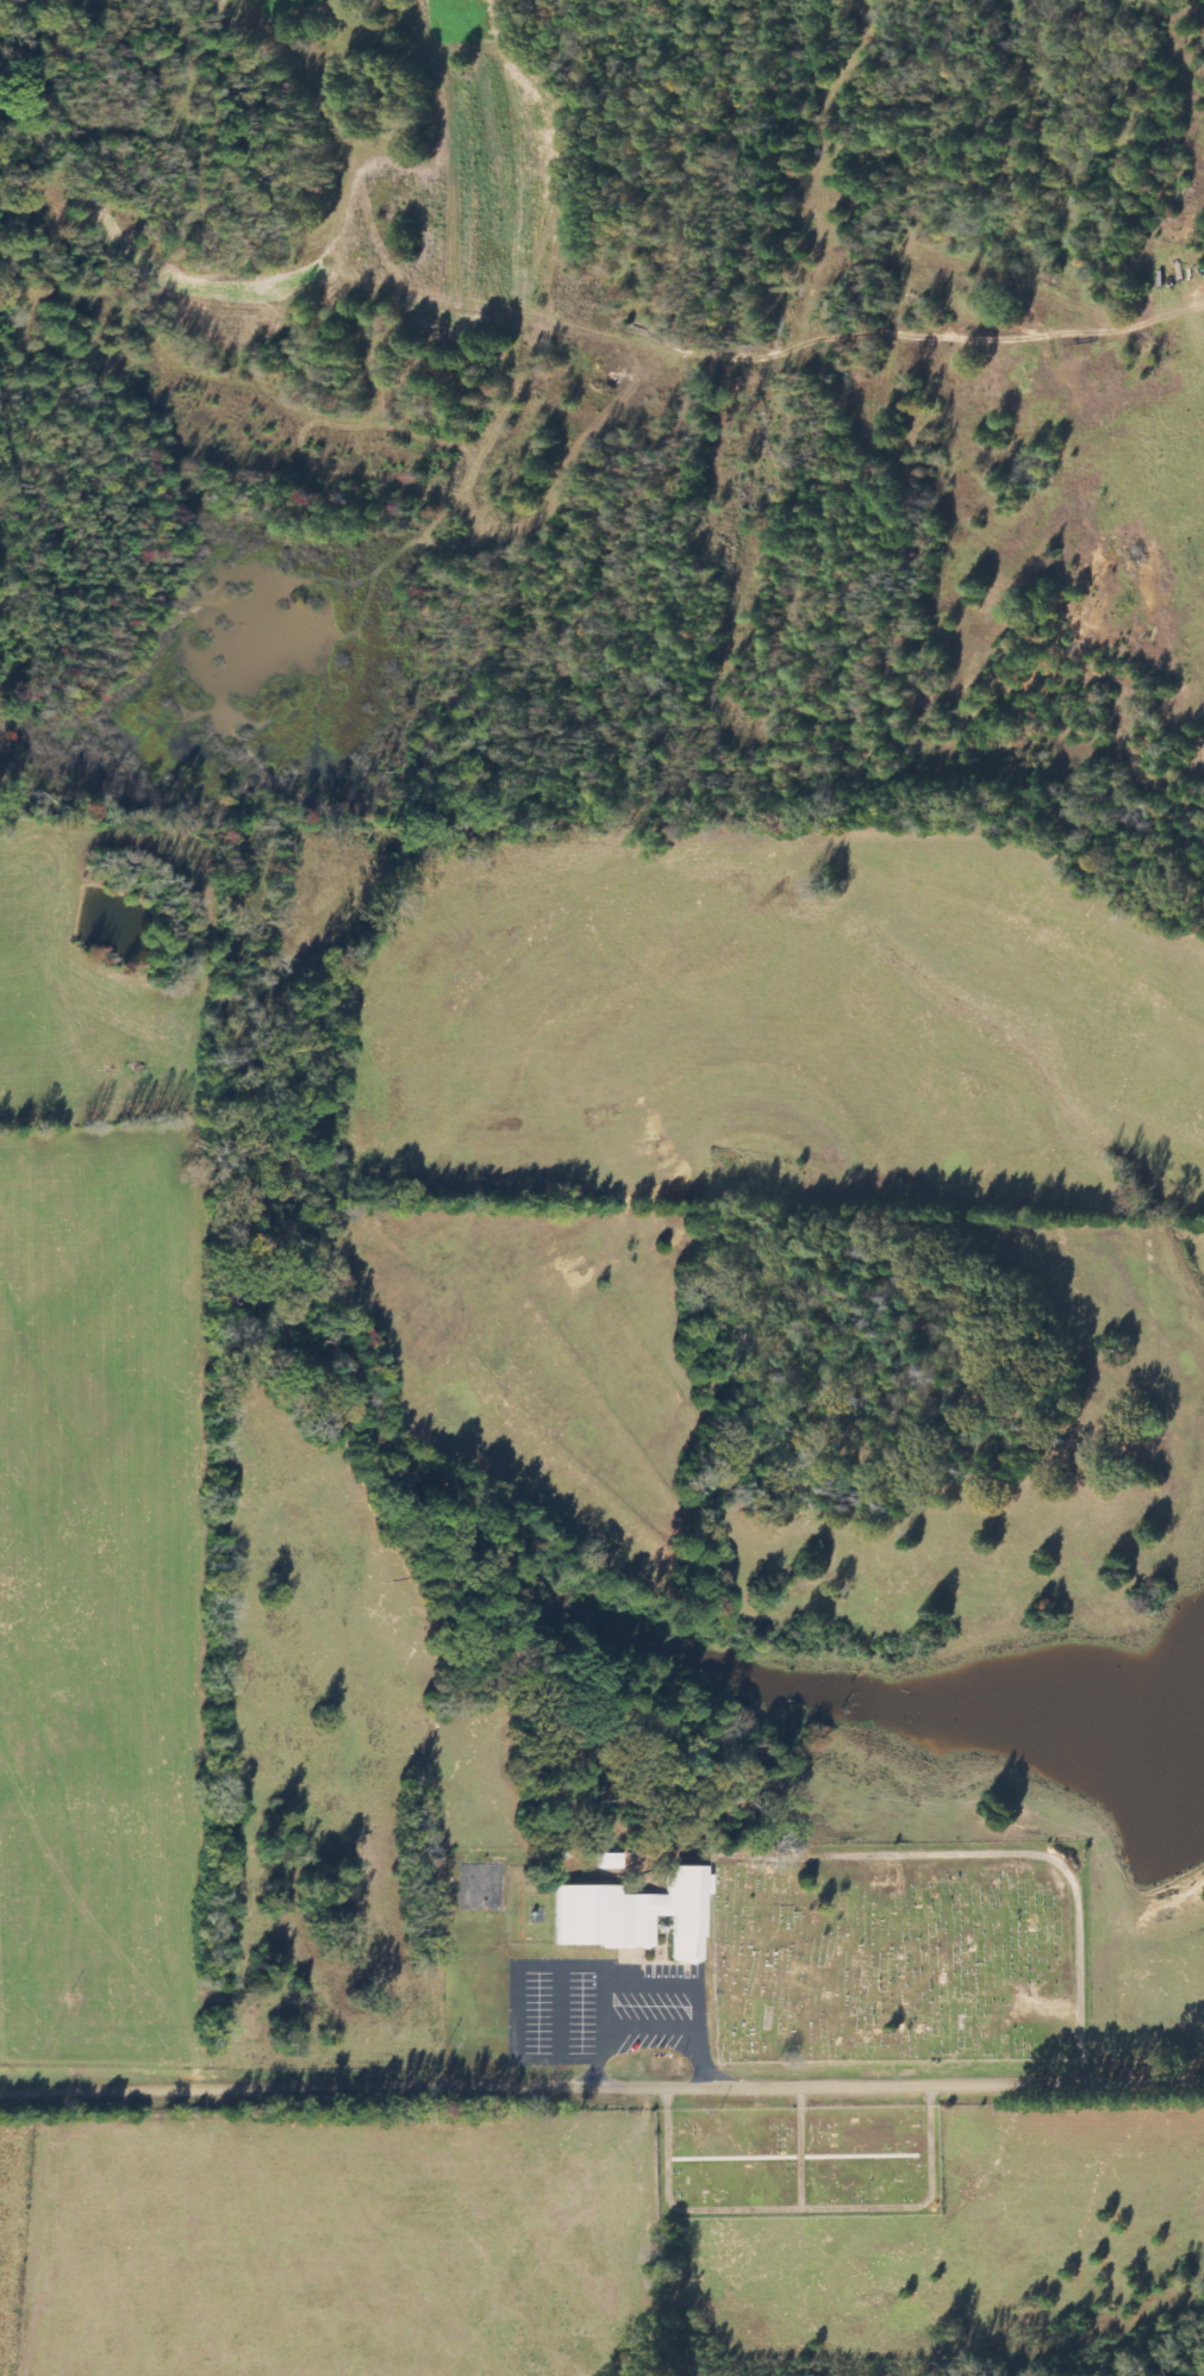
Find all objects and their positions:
building: (610, 1861)
building: (637, 1916)
park: (902, 1948)
road: (601, 2081)
park: (801, 2159)

